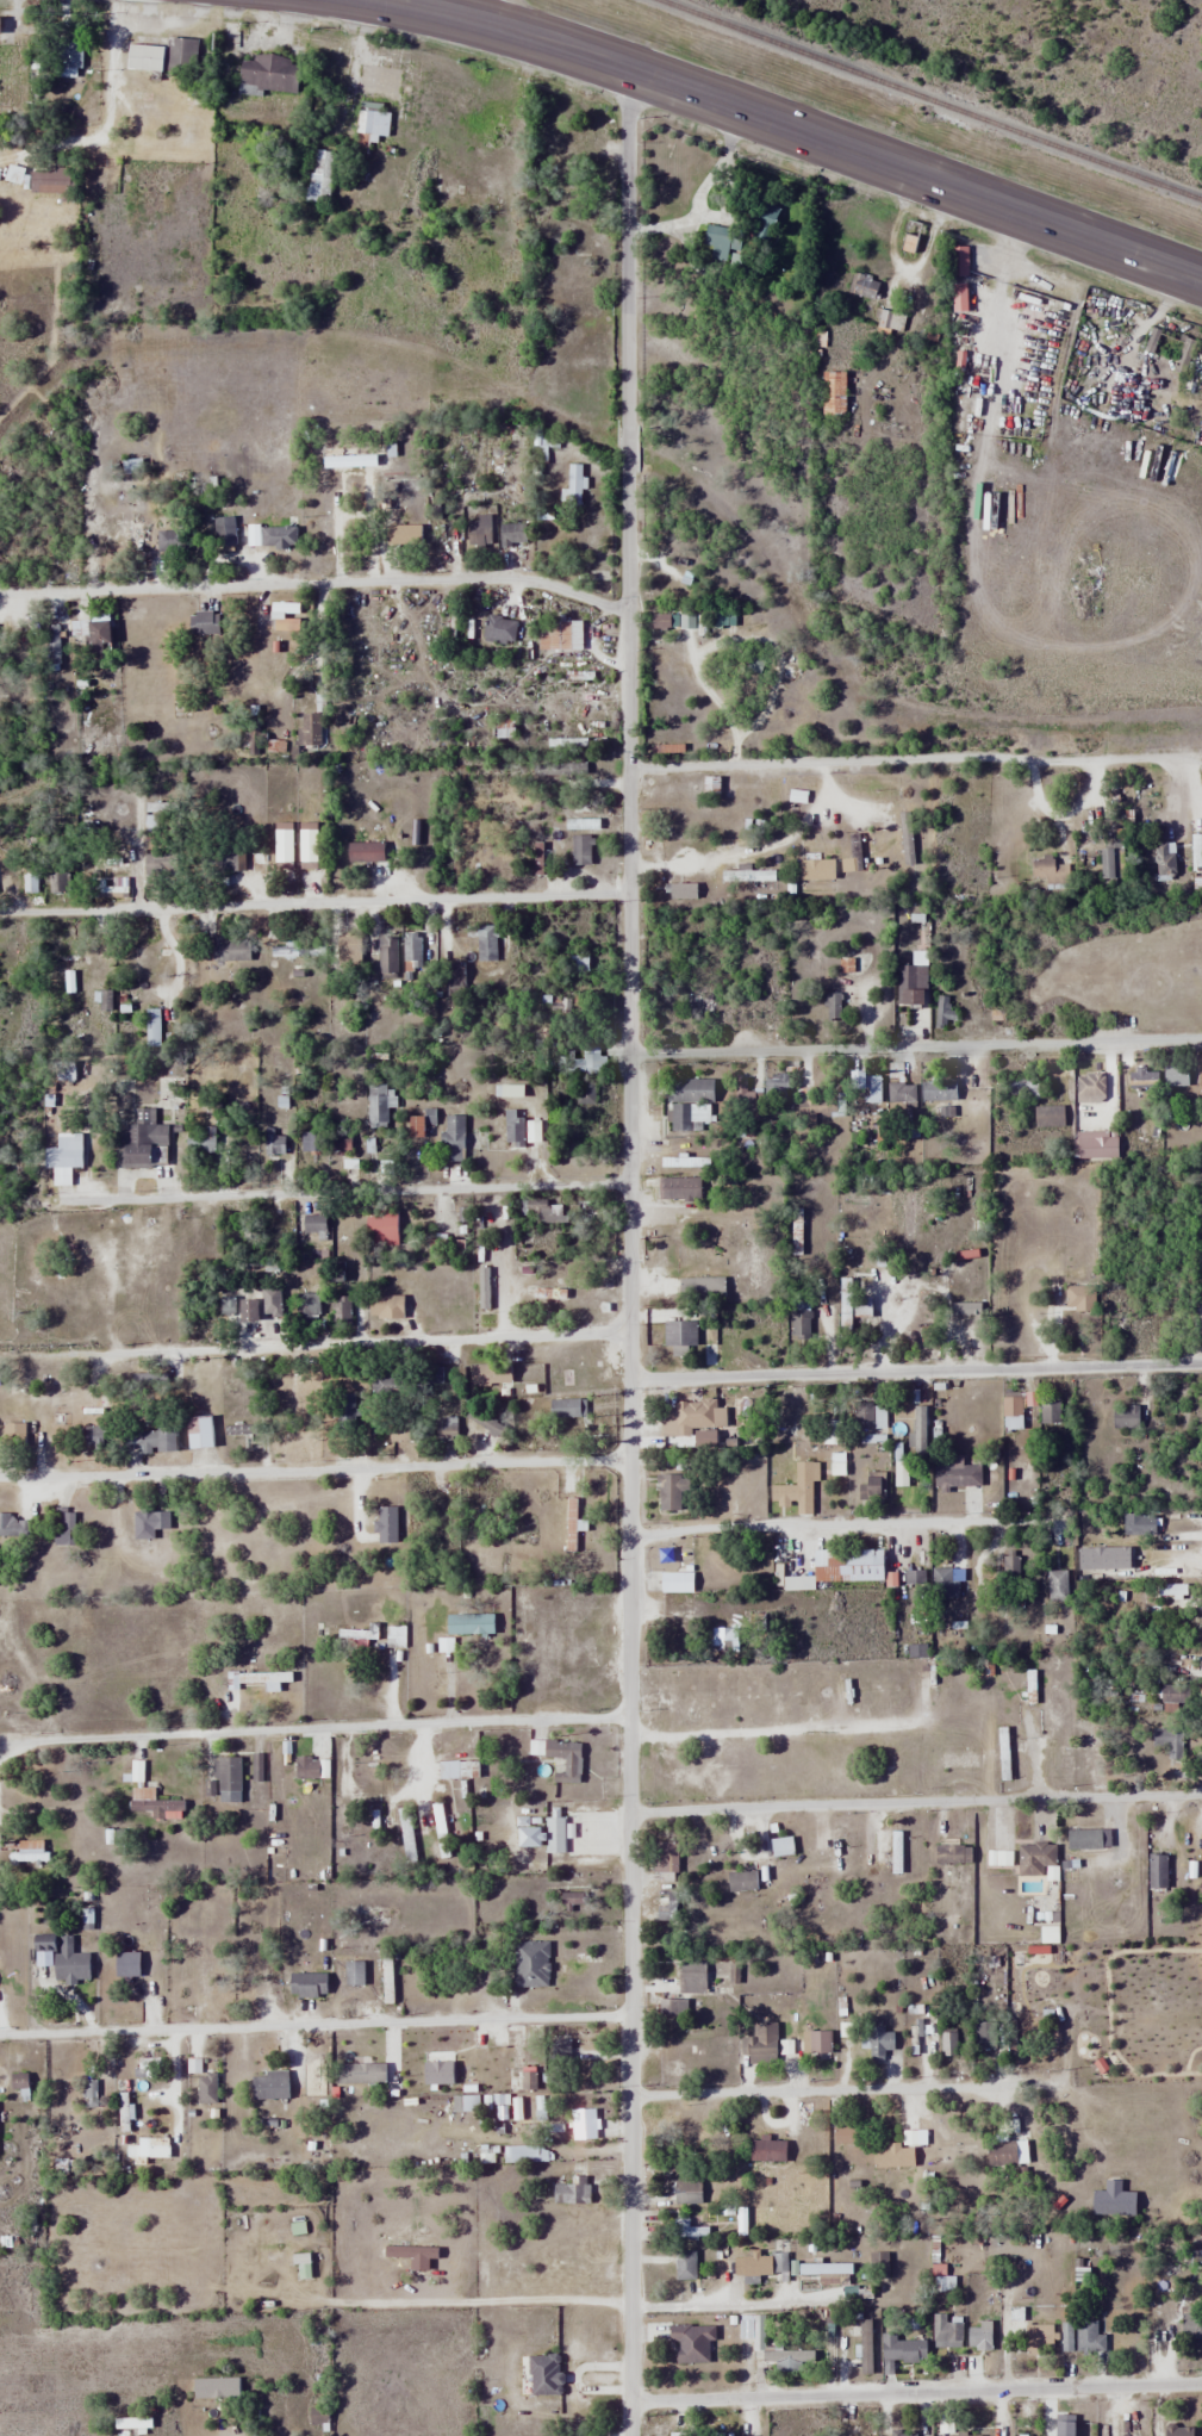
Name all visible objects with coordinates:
road: (510, 14)
building: (267, 74)
railway: (930, 100)
building: (372, 122)
road: (796, 130)
building: (318, 175)
building: (761, 216)
building: (909, 236)
building: (721, 243)
road: (901, 266)
building: (961, 292)
building: (890, 319)
building: (832, 392)
building: (537, 452)
building: (573, 485)
building: (131, 528)
building: (477, 530)
building: (509, 533)
building: (269, 536)
building: (403, 537)
road: (316, 583)
road: (521, 611)
building: (201, 623)
building: (498, 629)
building: (556, 633)
building: (95, 638)
building: (51, 641)
road: (910, 758)
building: (669, 829)
building: (579, 850)
building: (362, 851)
building: (1164, 857)
building: (1110, 860)
building: (815, 868)
building: (1050, 872)
building: (746, 874)
building: (678, 890)
road: (361, 901)
building: (486, 945)
building: (229, 949)
building: (289, 950)
building: (386, 956)
building: (411, 956)
building: (910, 983)
building: (833, 1005)
building: (943, 1009)
building: (151, 1026)
road: (915, 1044)
building: (591, 1061)
building: (63, 1069)
building: (865, 1083)
building: (898, 1085)
building: (936, 1088)
building: (584, 1094)
building: (690, 1104)
building: (1046, 1116)
building: (585, 1121)
building: (413, 1125)
building: (512, 1126)
building: (450, 1137)
building: (273, 1141)
building: (144, 1143)
building: (338, 1143)
building: (208, 1144)
building: (62, 1157)
building: (680, 1161)
building: (678, 1187)
road: (348, 1191)
building: (538, 1211)
building: (312, 1223)
road: (629, 1251)
building: (970, 1275)
building: (1082, 1276)
building: (36, 1284)
building: (699, 1287)
building: (268, 1294)
building: (449, 1298)
building: (305, 1304)
building: (380, 1305)
building: (236, 1307)
building: (853, 1310)
building: (340, 1311)
building: (798, 1323)
building: (725, 1325)
building: (679, 1332)
road: (317, 1343)
road: (915, 1371)
building: (430, 1373)
building: (487, 1373)
building: (295, 1394)
building: (566, 1407)
building: (1048, 1409)
building: (344, 1410)
building: (1011, 1412)
building: (867, 1415)
building: (909, 1417)
building: (1123, 1417)
building: (685, 1421)
building: (440, 1424)
building: (198, 1431)
building: (91, 1435)
building: (148, 1437)
building: (12, 1441)
road: (314, 1468)
building: (953, 1473)
building: (871, 1487)
building: (668, 1490)
building: (793, 1490)
building: (148, 1521)
road: (839, 1523)
building: (1136, 1523)
building: (14, 1524)
building: (386, 1524)
building: (571, 1524)
building: (847, 1565)
building: (1009, 1566)
building: (913, 1578)
building: (674, 1581)
building: (796, 1581)
building: (945, 1581)
building: (1057, 1585)
building: (468, 1622)
building: (915, 1632)
building: (354, 1635)
building: (723, 1636)
building: (446, 1645)
building: (257, 1677)
building: (1173, 1692)
building: (936, 1698)
road: (318, 1730)
building: (1169, 1741)
building: (1002, 1753)
building: (958, 1759)
building: (306, 1767)
building: (447, 1769)
building: (226, 1778)
building: (152, 1802)
road: (916, 1803)
building: (373, 1816)
building: (580, 1839)
building: (1086, 1839)
building: (779, 1846)
building: (999, 1846)
building: (30, 1852)
building: (895, 1852)
building: (664, 1857)
building: (1034, 1858)
building: (1156, 1870)
building: (741, 1879)
building: (666, 1908)
building: (42, 1941)
building: (68, 1962)
building: (125, 1964)
building: (530, 1964)
building: (256, 1970)
building: (305, 1984)
road: (314, 2025)
building: (879, 2043)
building: (759, 2044)
building: (947, 2044)
building: (559, 2050)
building: (518, 2059)
building: (310, 2068)
building: (267, 2084)
building: (205, 2088)
road: (821, 2090)
building: (88, 2092)
building: (580, 2125)
building: (843, 2133)
building: (145, 2149)
building: (765, 2149)
building: (1001, 2151)
building: (525, 2152)
building: (959, 2154)
building: (891, 2155)
building: (571, 2190)
building: (685, 2190)
building: (687, 2231)
building: (684, 2264)
building: (876, 2264)
building: (300, 2266)
building: (762, 2267)
building: (822, 2268)
road: (736, 2301)
building: (1190, 2325)
building: (945, 2331)
building: (978, 2337)
building: (1088, 2337)
building: (1036, 2338)
building: (690, 2342)
building: (901, 2350)
building: (785, 2355)
building: (214, 2387)
road: (916, 2393)
building: (129, 2425)
building: (1061, 2429)
building: (1177, 2430)
building: (679, 2434)
building: (712, 2434)
building: (903, 2434)
building: (960, 2435)
building: (1022, 2435)

